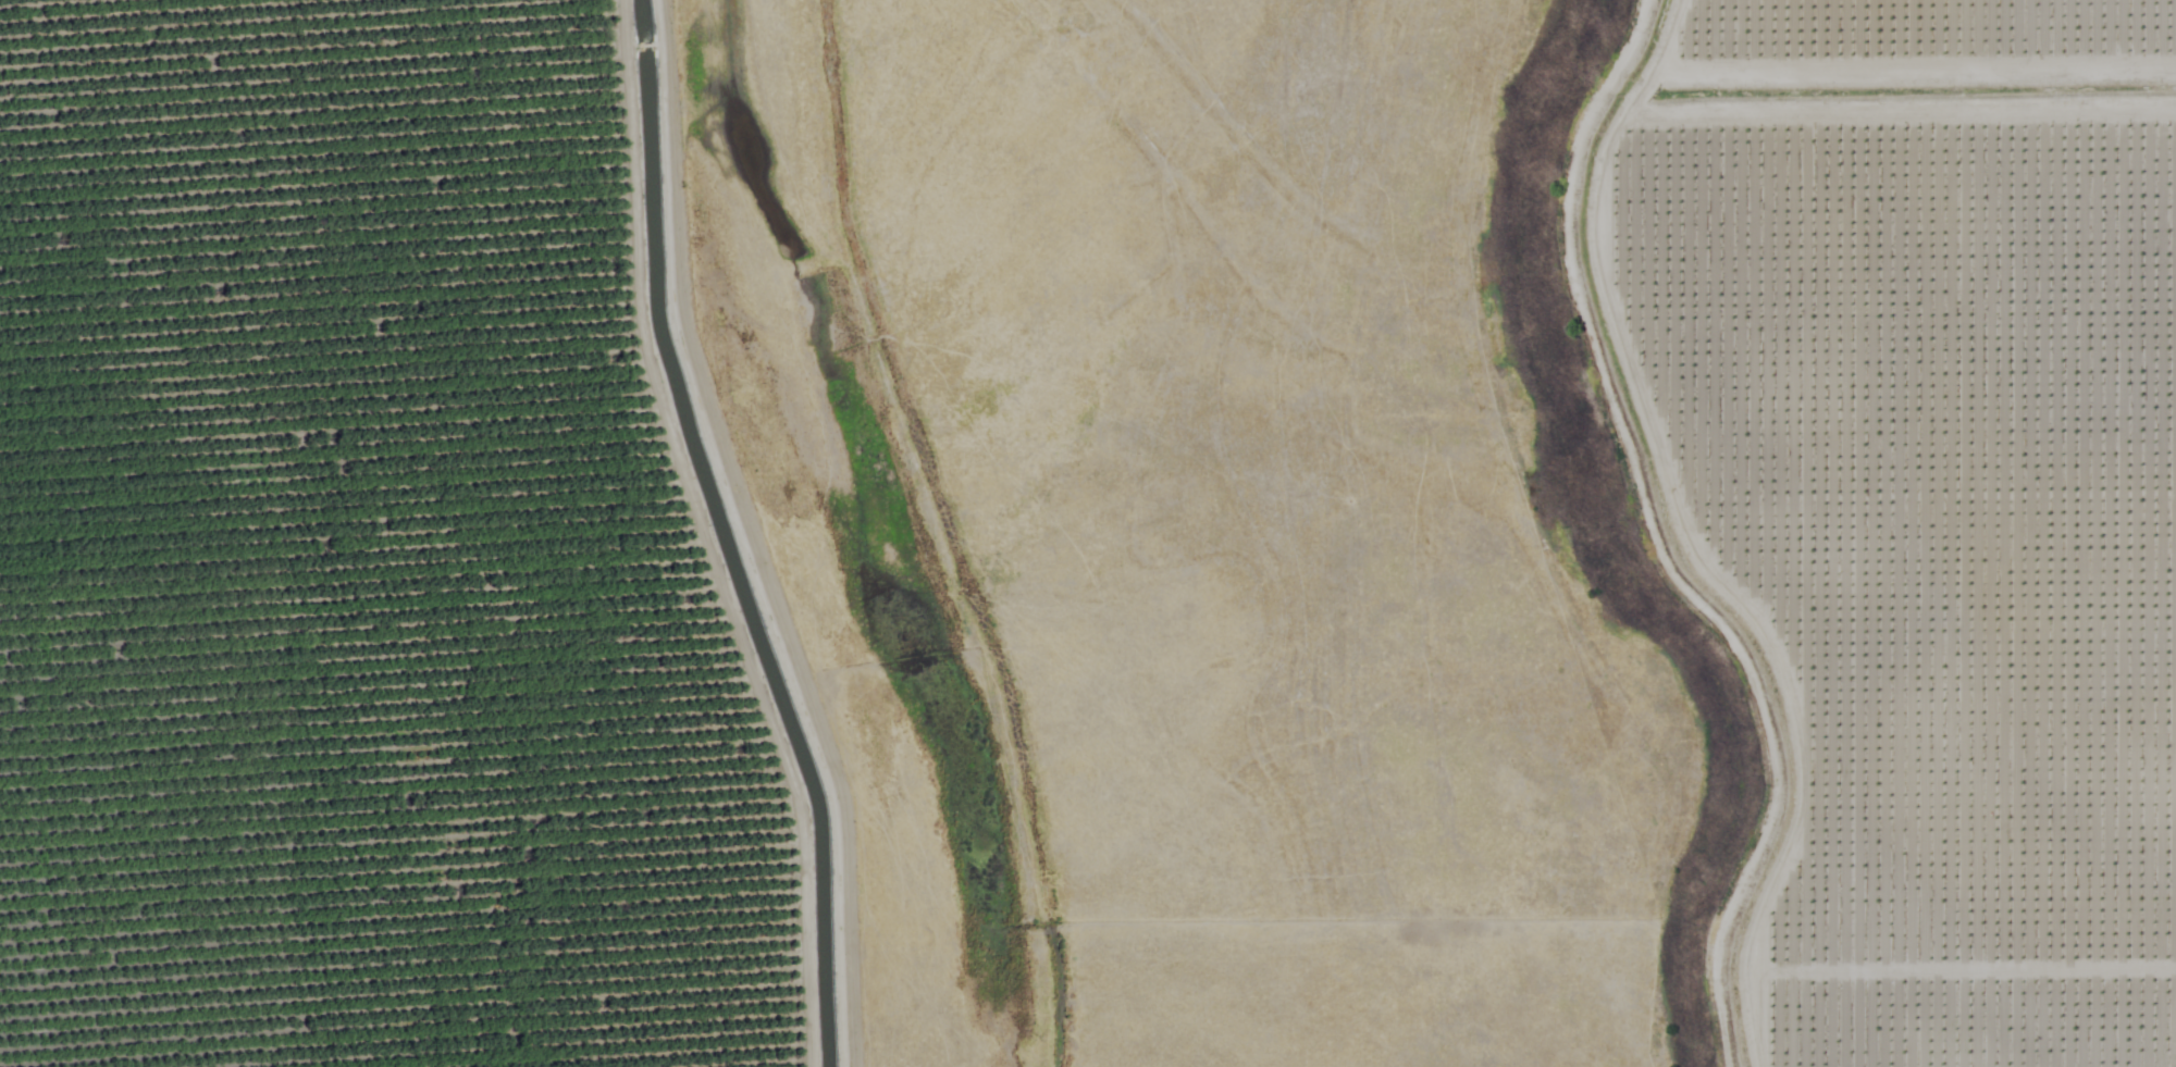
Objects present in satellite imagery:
road: (1942, 123)
crop: (1931, 494)
road: (1793, 530)
crop: (373, 559)

